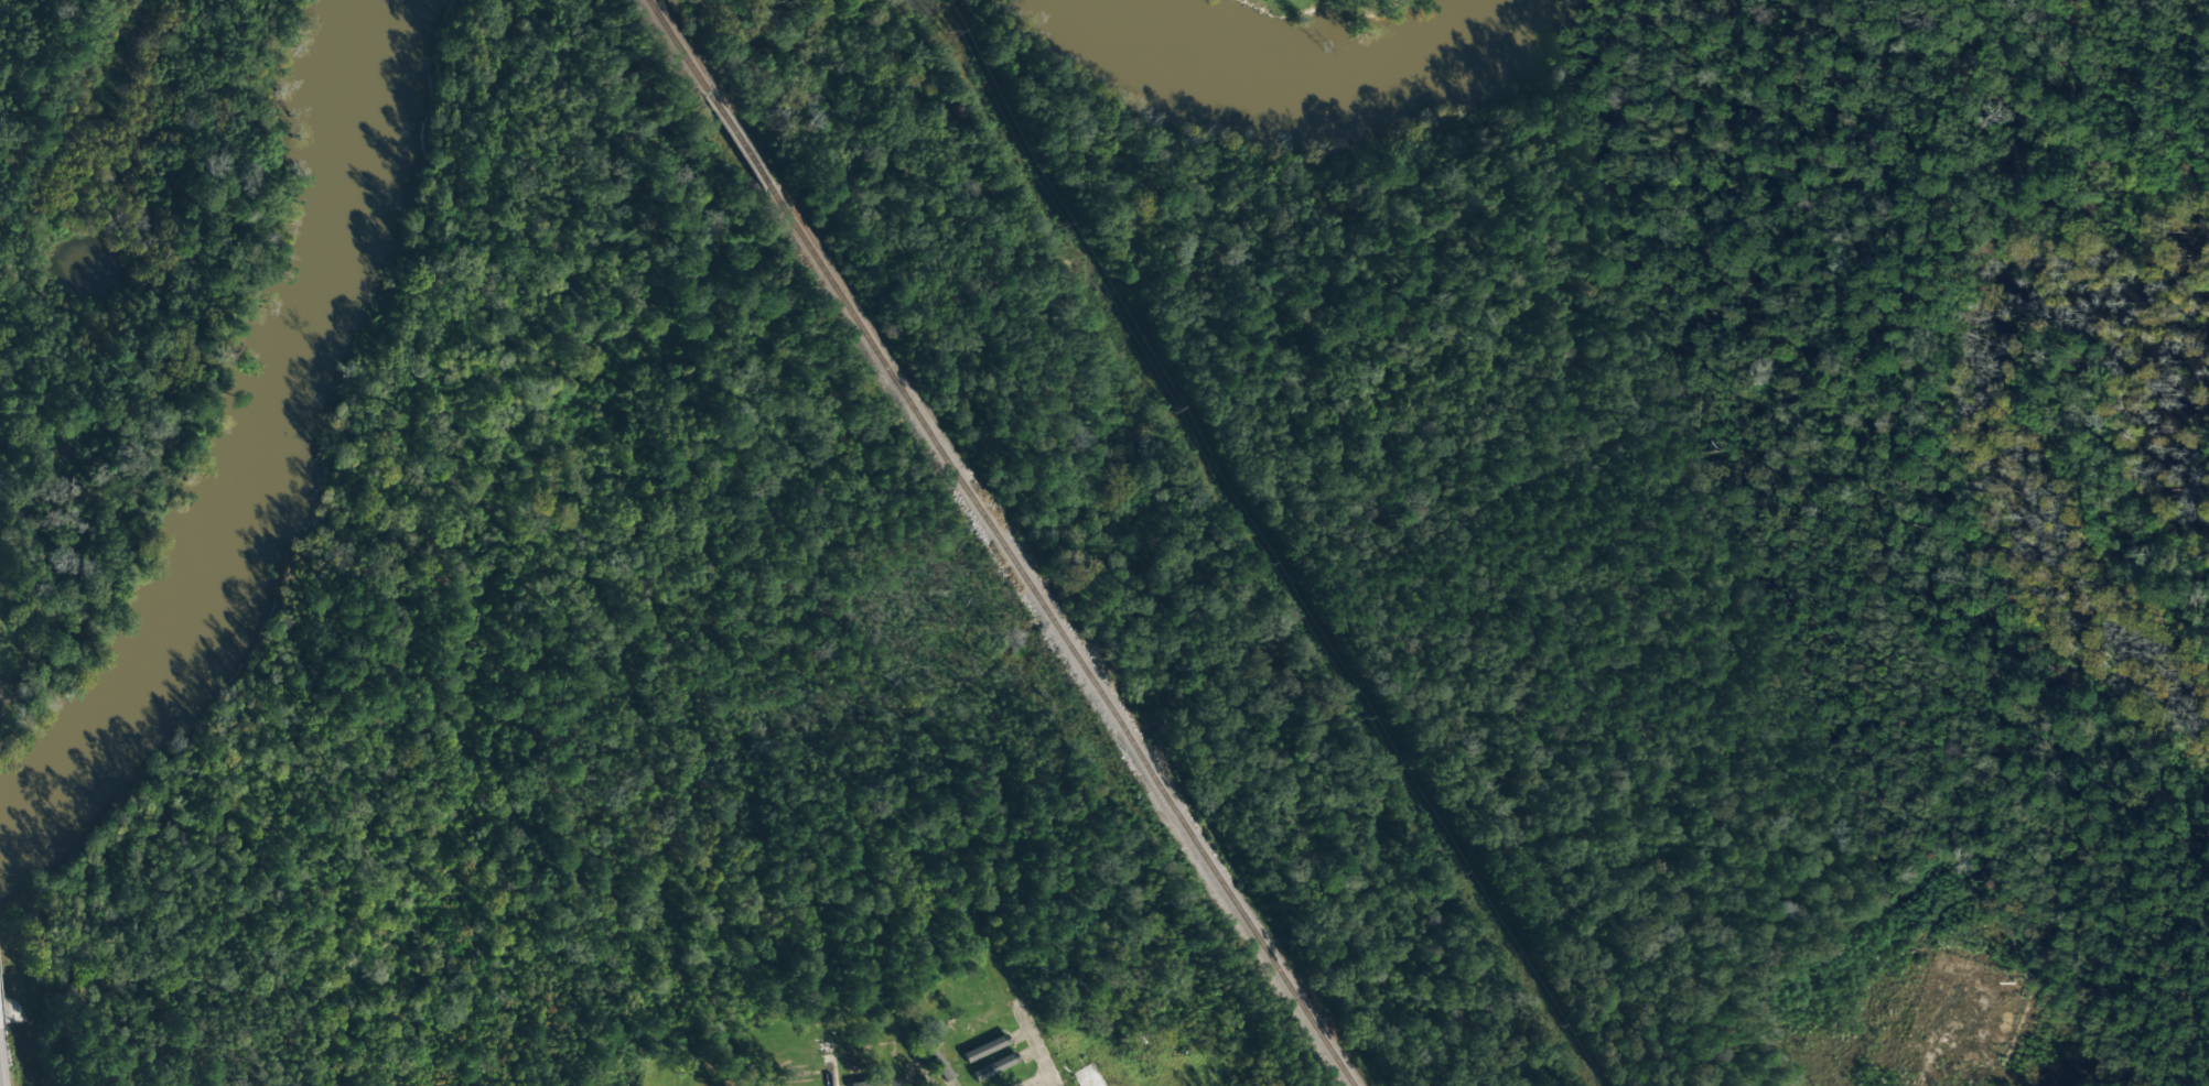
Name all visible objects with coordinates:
power tower: (948, 34)
river: (1313, 85)
power tower: (1066, 225)
power tower: (1181, 411)
river: (254, 455)
railway: (1001, 542)
road: (1035, 1044)
road: (828, 1073)
road: (1037, 1080)
building: (877, 1083)

